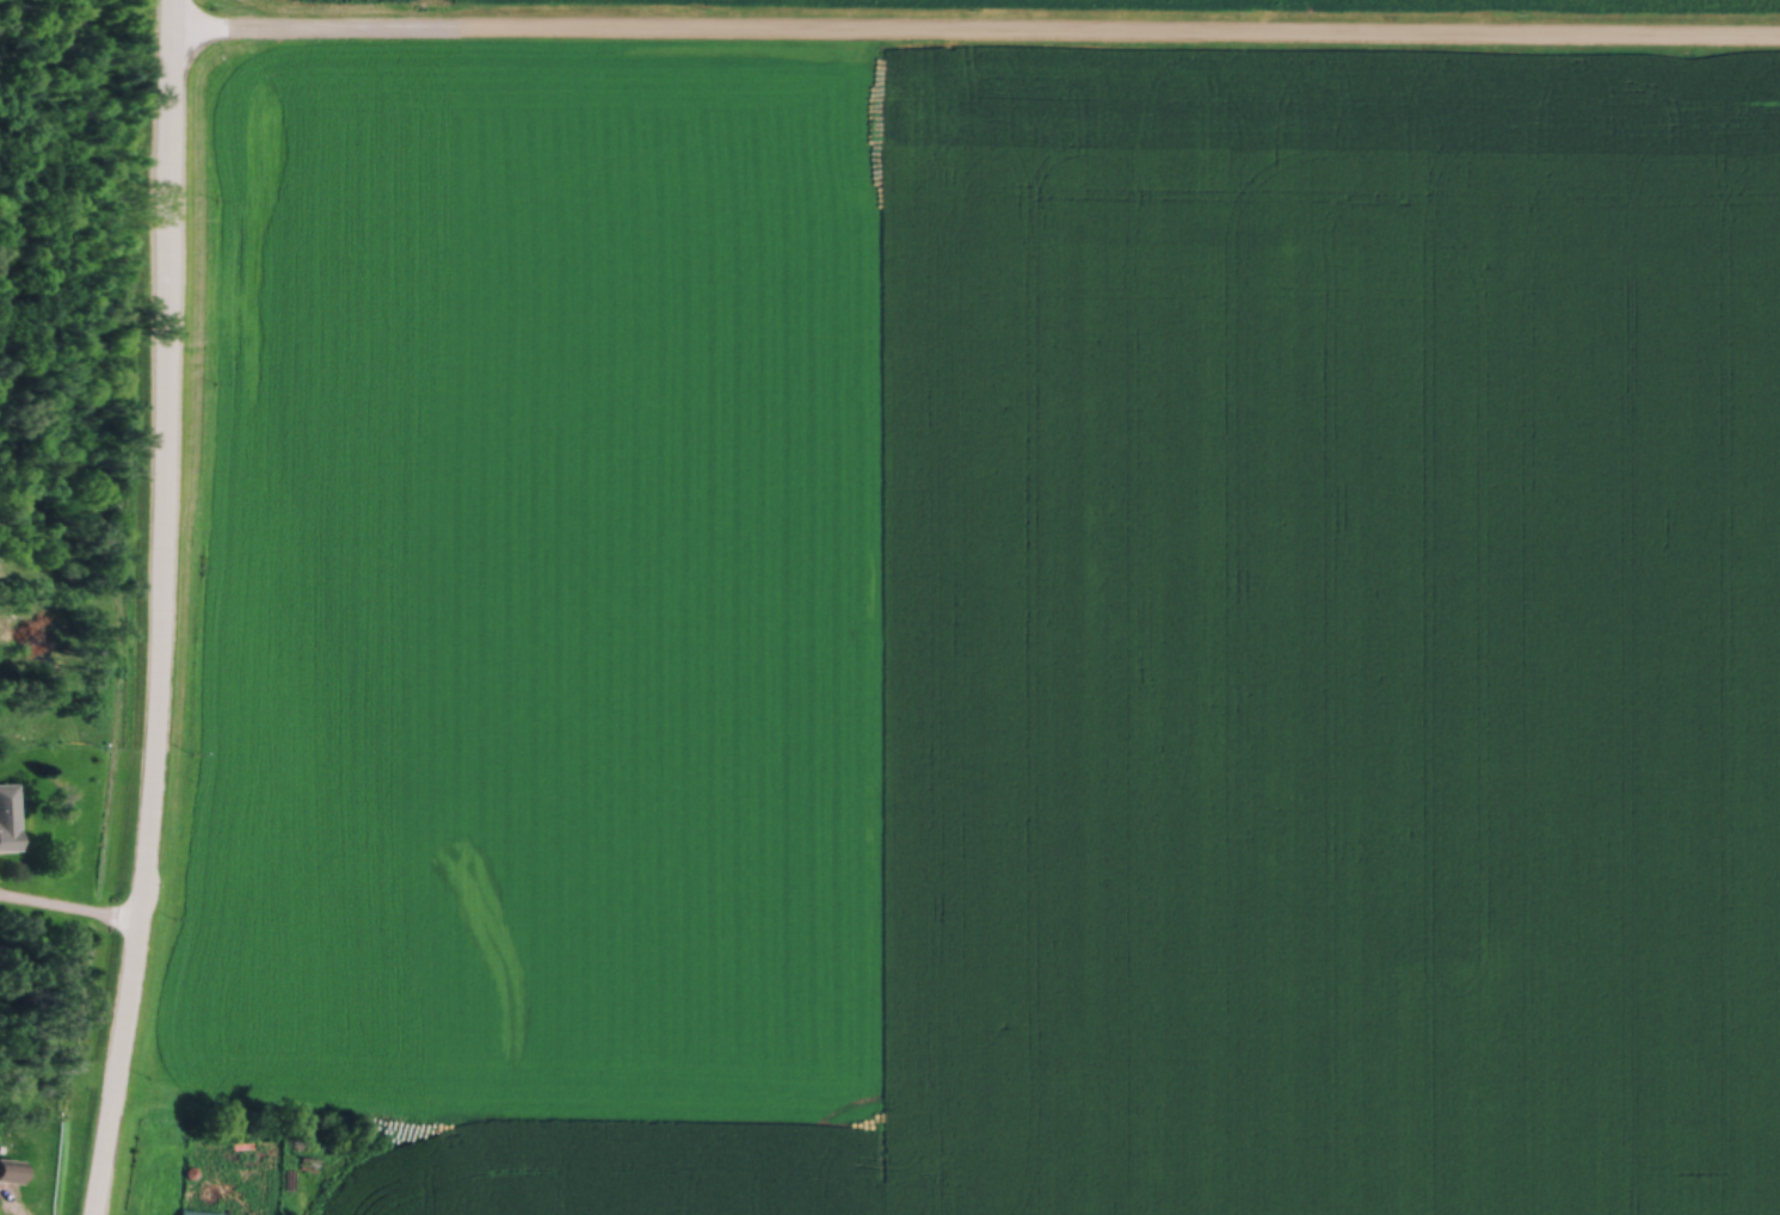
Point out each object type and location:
road: (974, 33)
road: (160, 609)
building: (8, 812)
road: (69, 908)
building: (11, 1167)
building: (197, 1210)

